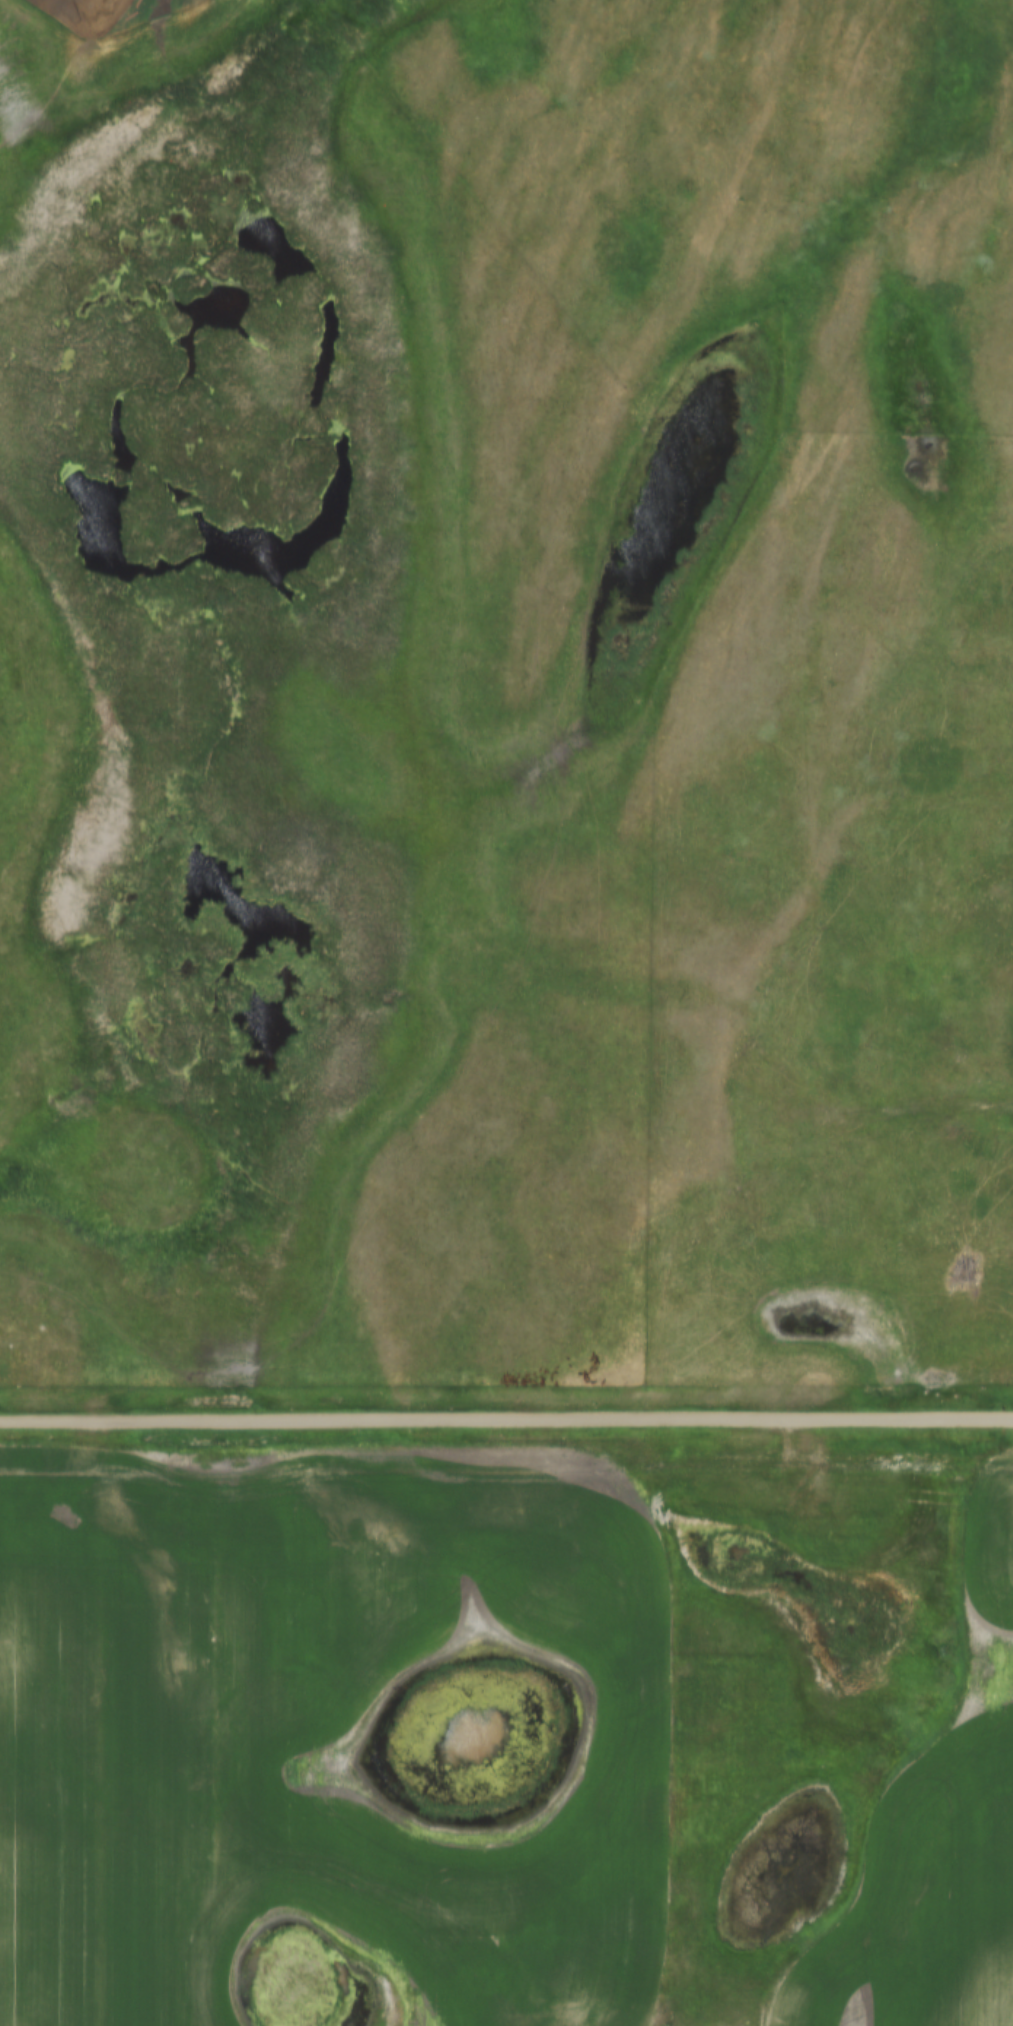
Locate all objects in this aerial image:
road: (506, 1424)

